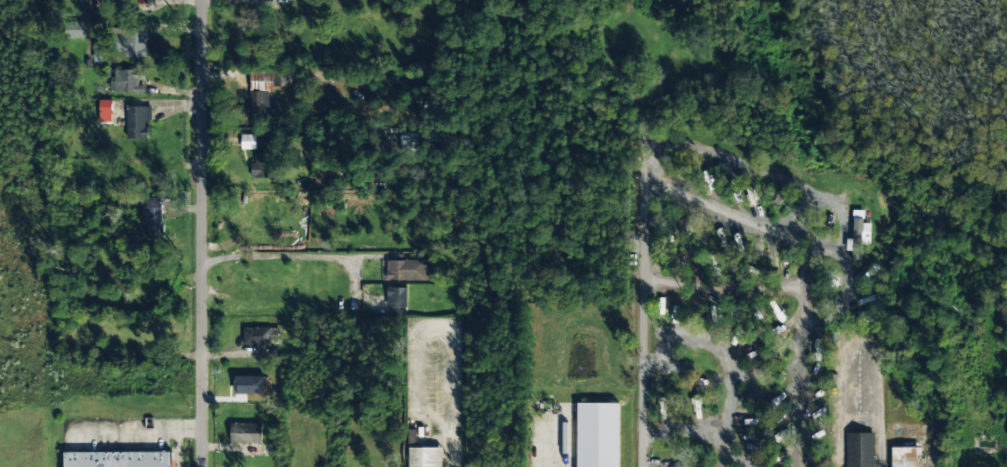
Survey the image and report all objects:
building: (133, 0)
building: (268, 3)
building: (73, 30)
building: (98, 53)
building: (127, 81)
building: (259, 93)
building: (104, 111)
building: (137, 118)
building: (255, 142)
building: (260, 166)
building: (152, 217)
road: (200, 233)
building: (858, 238)
building: (405, 270)
building: (396, 297)
road: (637, 297)
building: (259, 335)
building: (249, 385)
building: (245, 433)
building: (597, 435)
building: (859, 450)
building: (424, 457)
building: (904, 457)
road: (551, 458)

